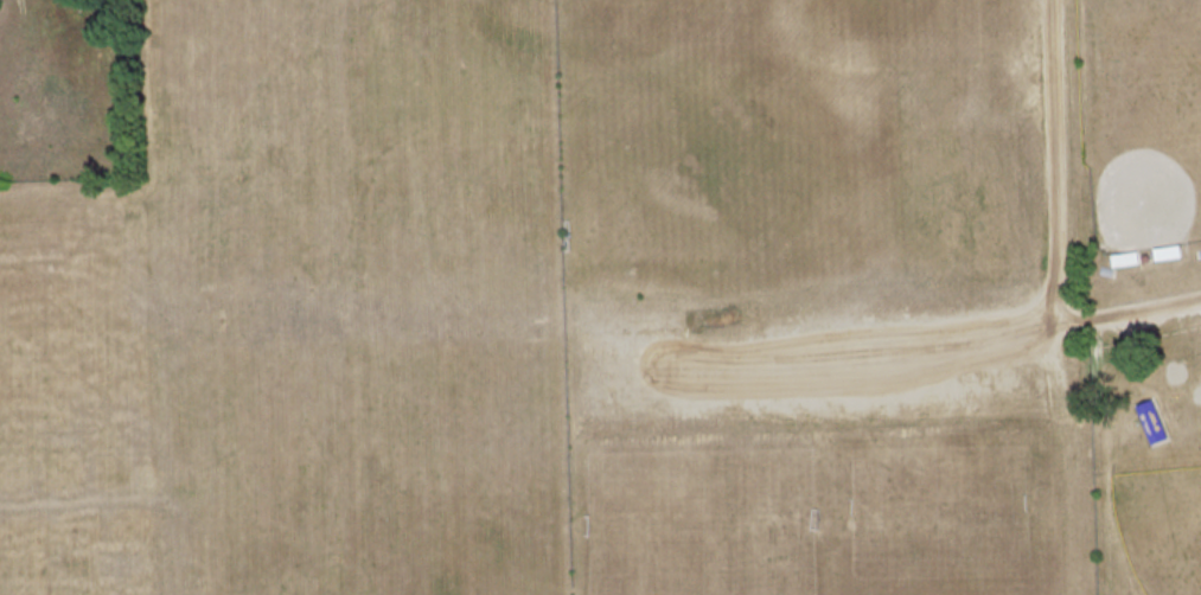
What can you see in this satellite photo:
park: (1145, 140)
road: (1056, 224)
park: (882, 295)
road: (861, 362)
parking lot: (836, 371)
building: (1151, 423)
park: (1160, 530)

